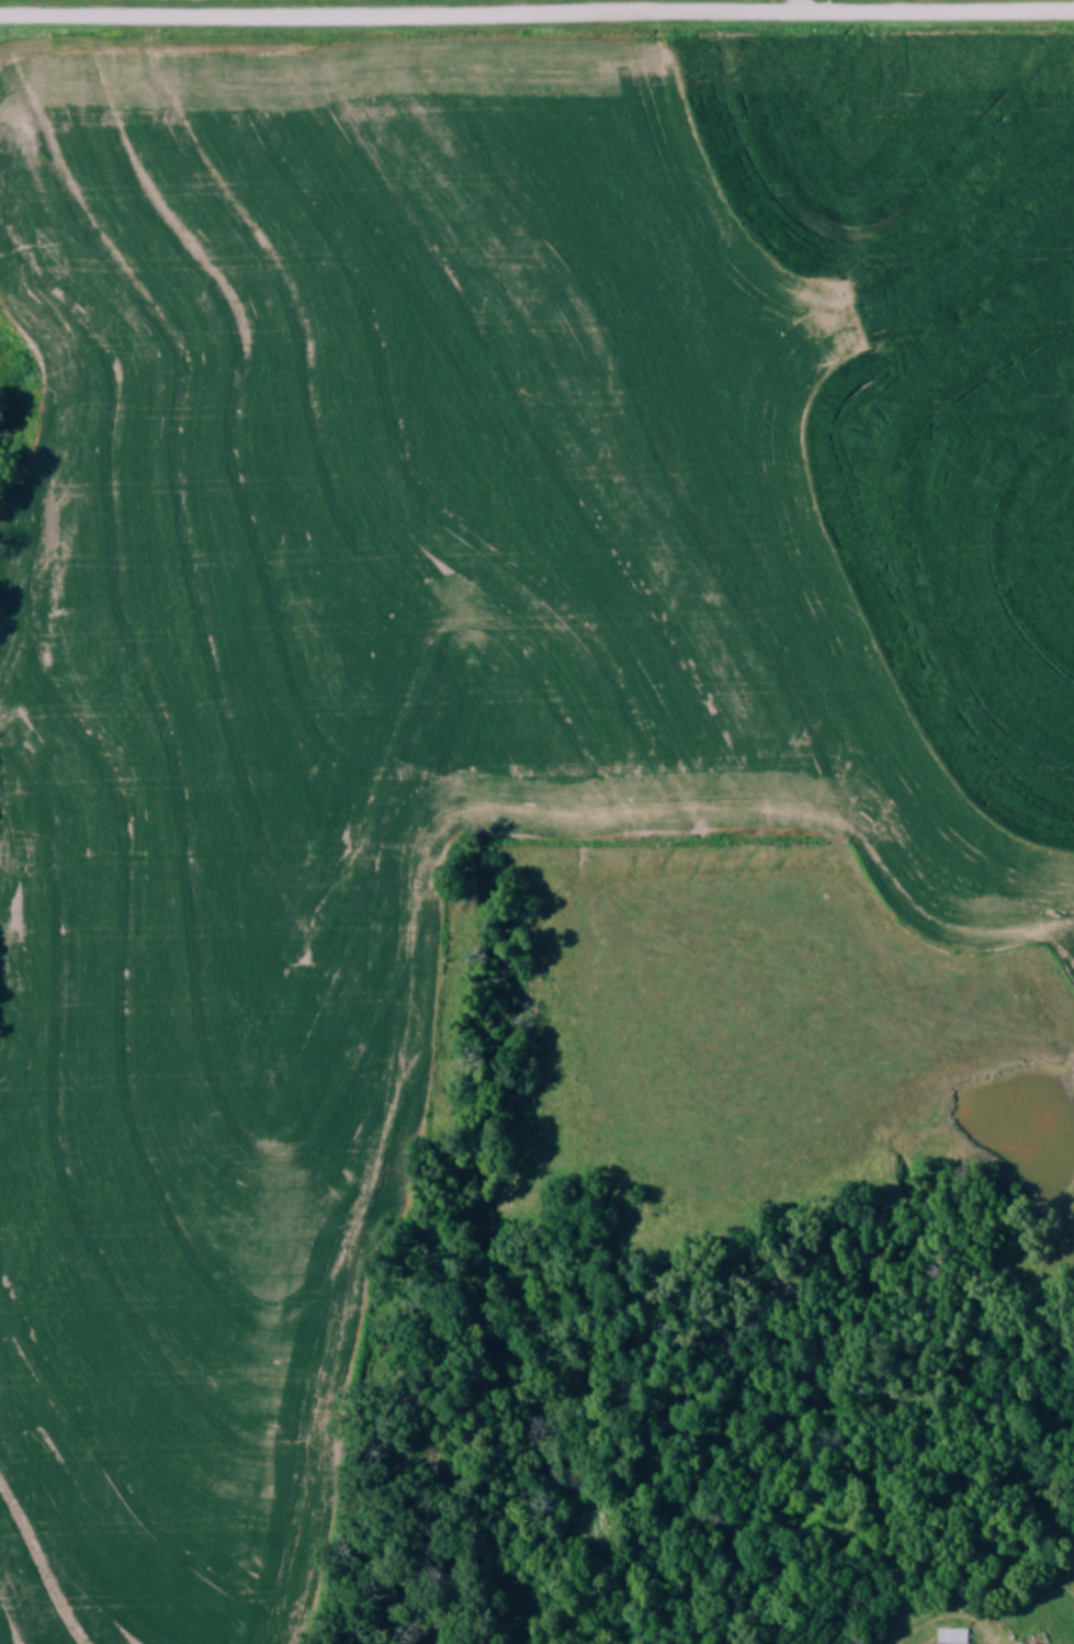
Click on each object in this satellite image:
road: (798, 8)
road: (536, 15)
building: (949, 1636)

